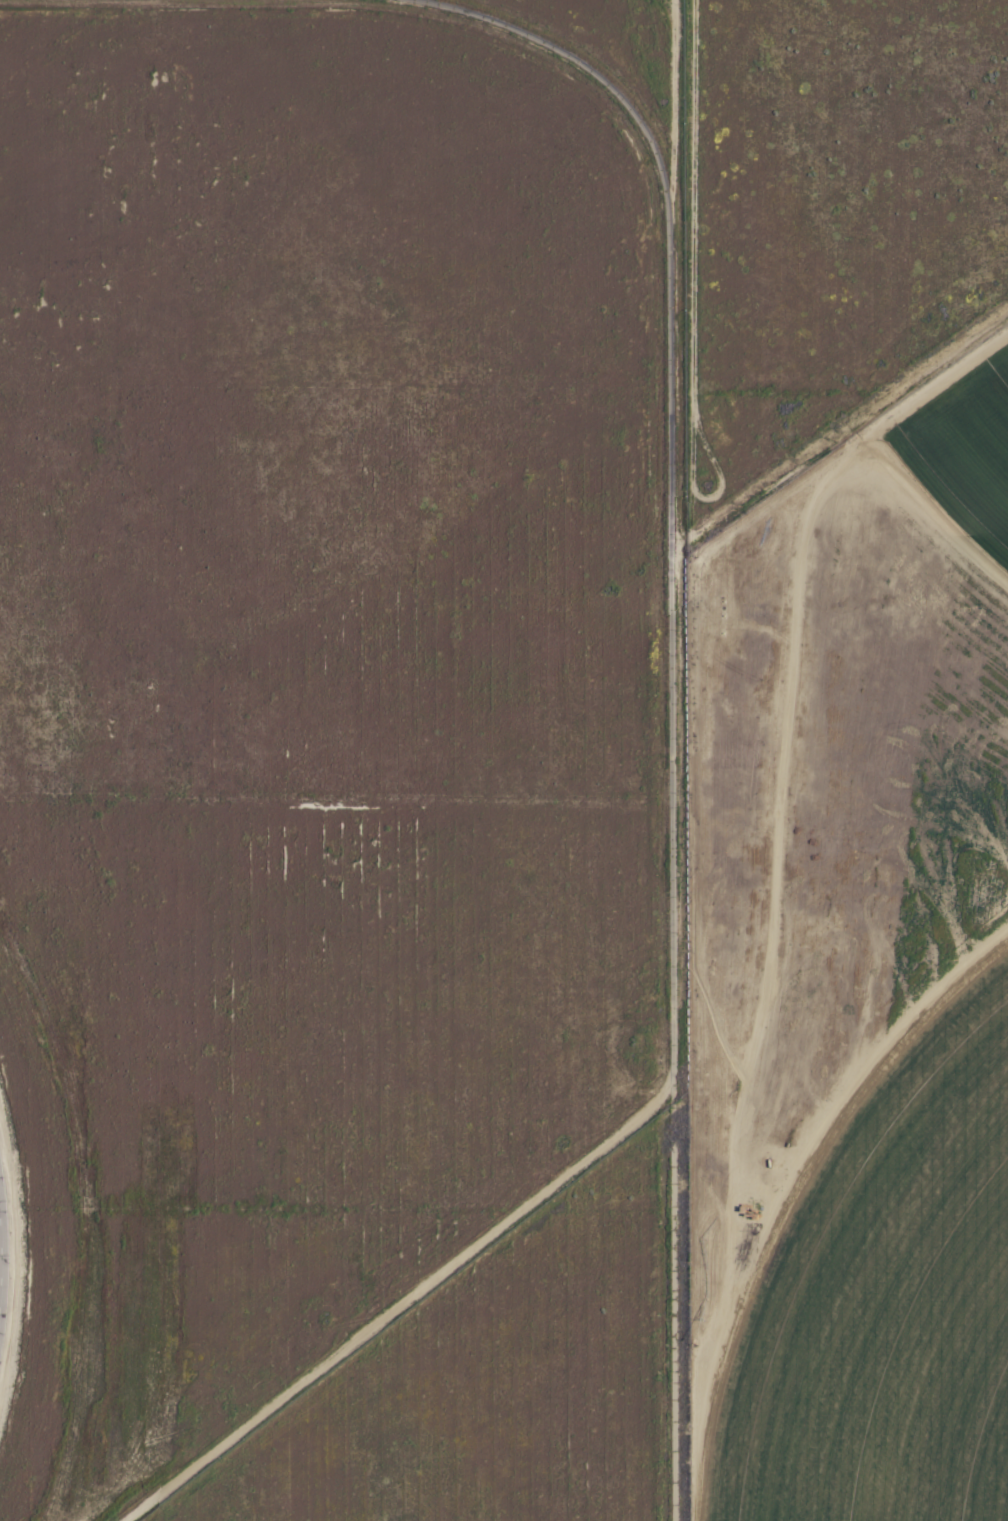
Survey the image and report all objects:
crop: (951, 450)
road: (0, 1258)
crop: (882, 1297)

